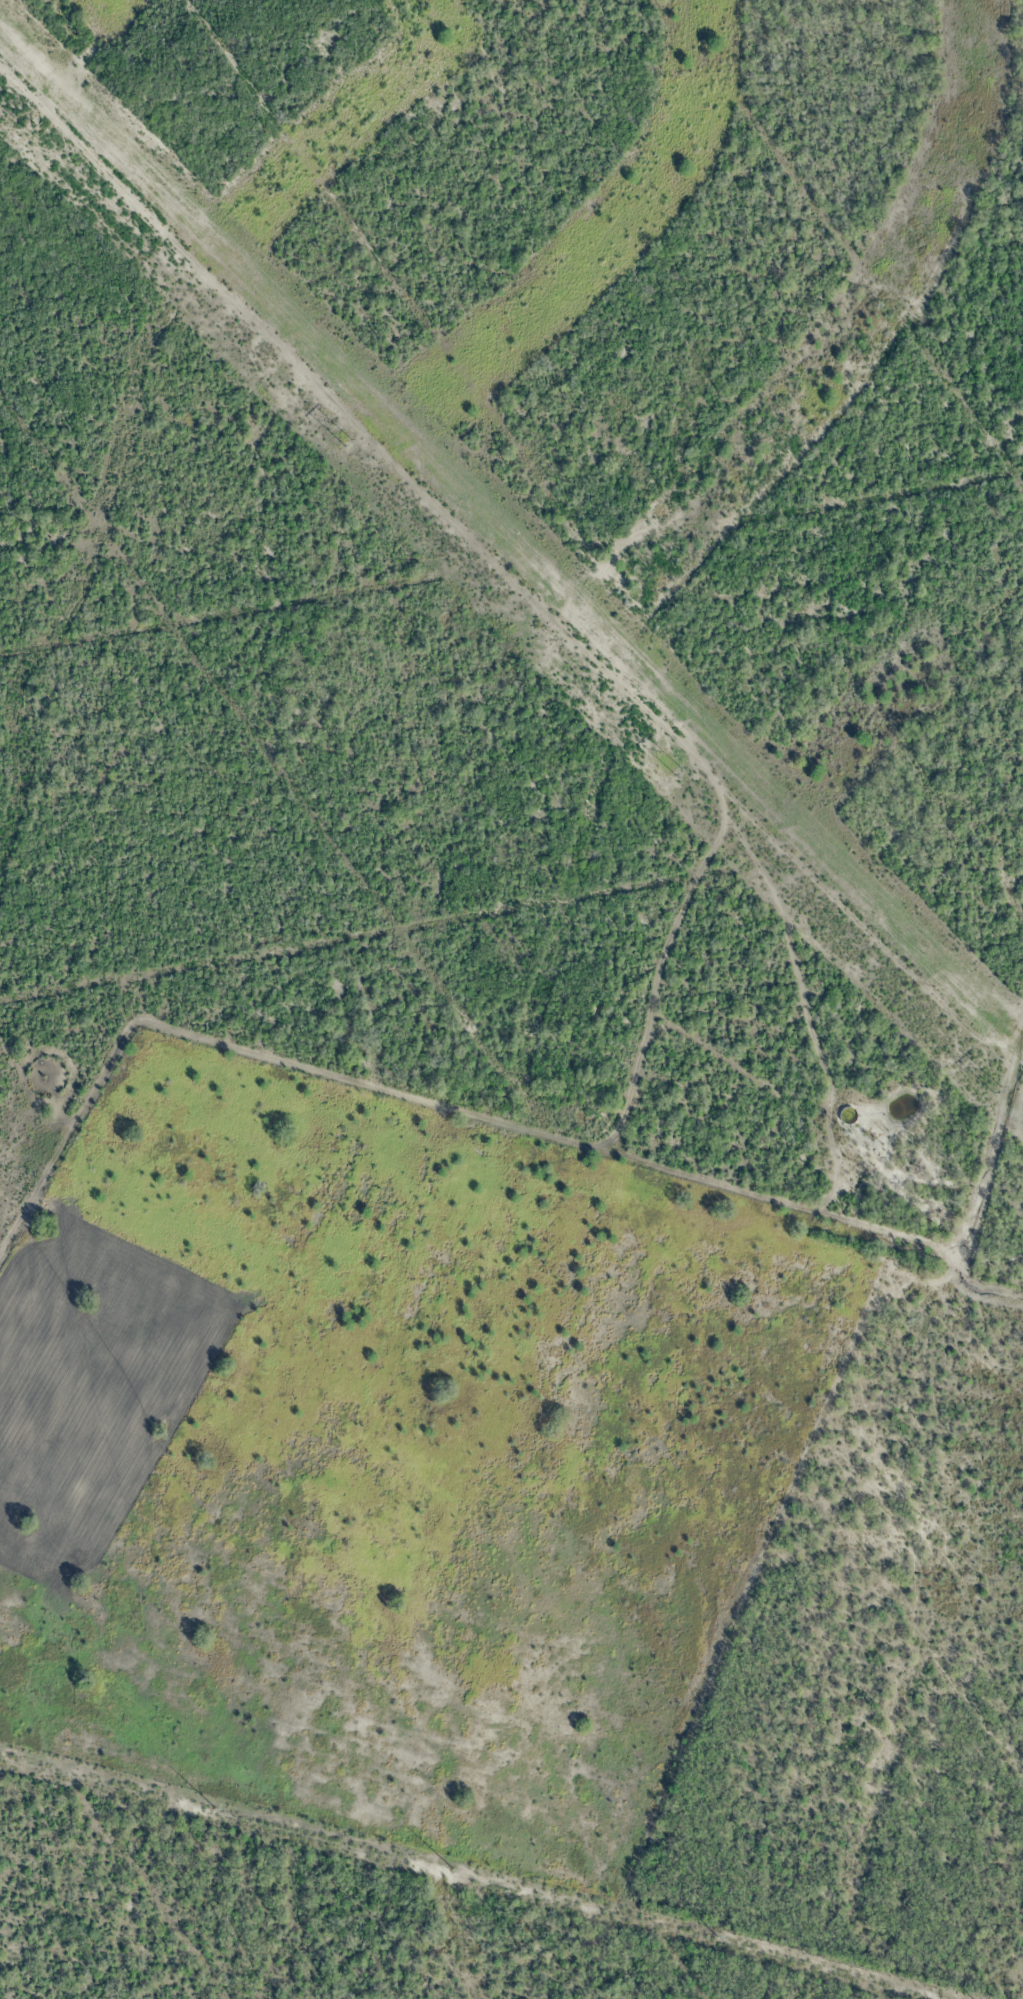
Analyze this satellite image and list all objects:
power tower: (31, 127)
power tower: (346, 442)
power tower: (677, 771)
power tower: (996, 1089)
power tower: (215, 1808)
power tower: (454, 1869)
power tower: (717, 1939)

